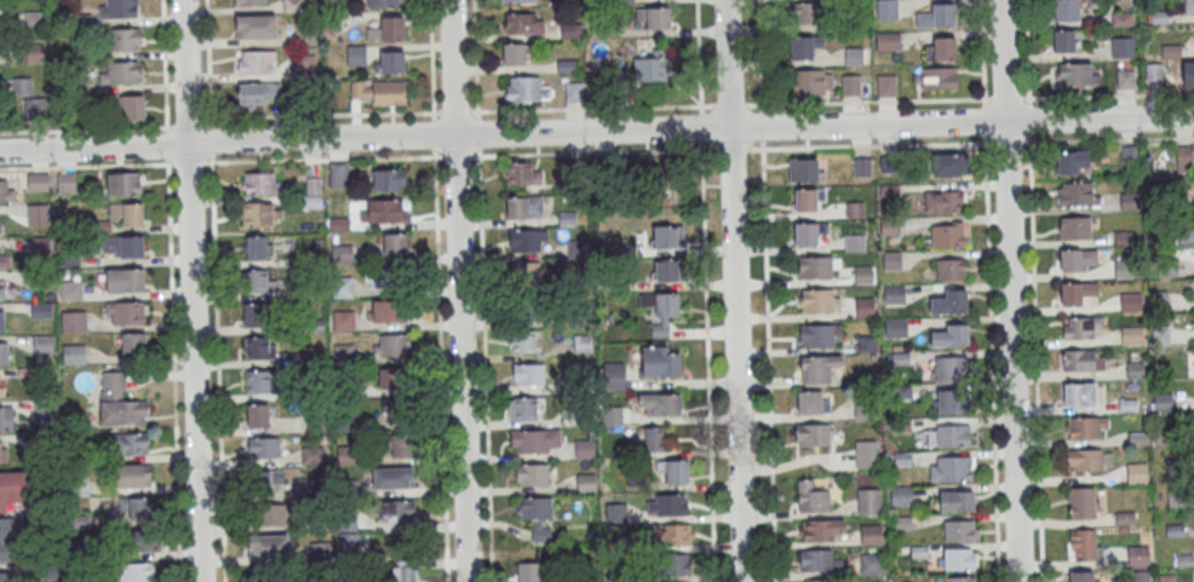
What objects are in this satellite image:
building: (248, 1)
building: (383, 4)
building: (294, 6)
building: (1189, 6)
building: (886, 8)
building: (120, 10)
building: (1064, 10)
building: (808, 12)
building: (937, 16)
building: (653, 17)
building: (1121, 18)
building: (34, 19)
building: (332, 21)
building: (522, 24)
building: (256, 25)
building: (389, 29)
building: (303, 31)
building: (122, 40)
building: (888, 40)
building: (1062, 40)
building: (806, 45)
building: (942, 47)
building: (1123, 47)
road: (982, 51)
road: (1026, 51)
building: (35, 53)
building: (357, 54)
building: (516, 56)
road: (760, 56)
building: (854, 56)
road: (699, 57)
road: (431, 59)
road: (475, 59)
building: (258, 60)
building: (389, 60)
building: (304, 63)
road: (208, 64)
road: (165, 65)
building: (650, 68)
building: (1189, 68)
building: (122, 73)
building: (1153, 73)
building: (1075, 74)
building: (935, 77)
building: (1125, 79)
building: (811, 80)
building: (850, 83)
building: (885, 85)
building: (22, 87)
building: (81, 87)
building: (360, 90)
building: (526, 91)
building: (389, 92)
building: (254, 93)
road: (1108, 97)
road: (1006, 99)
road: (869, 103)
building: (133, 106)
road: (731, 106)
building: (35, 109)
road: (592, 109)
road: (455, 113)
road: (322, 115)
road: (1028, 120)
road: (985, 121)
road: (188, 122)
road: (763, 127)
road: (702, 128)
road: (85, 129)
road: (478, 132)
road: (596, 132)
road: (434, 133)
road: (1107, 138)
road: (1006, 142)
road: (212, 144)
road: (871, 145)
road: (168, 146)
road: (733, 149)
road: (593, 151)
road: (458, 155)
building: (1184, 159)
road: (220, 161)
building: (1074, 162)
building: (947, 163)
building: (890, 165)
building: (607, 166)
building: (863, 166)
building: (578, 168)
building: (805, 169)
building: (338, 174)
building: (521, 174)
building: (389, 179)
building: (38, 183)
building: (67, 183)
building: (259, 183)
building: (124, 185)
building: (6, 190)
building: (1077, 194)
building: (809, 198)
building: (942, 201)
building: (312, 202)
building: (522, 207)
building: (386, 209)
building: (855, 209)
building: (127, 214)
building: (259, 214)
building: (38, 215)
building: (340, 224)
building: (891, 226)
building: (99, 227)
building: (1075, 227)
building: (0, 232)
building: (806, 234)
building: (947, 234)
building: (667, 236)
building: (526, 241)
building: (394, 243)
building: (856, 243)
building: (42, 246)
building: (122, 247)
building: (257, 247)
building: (576, 249)
building: (626, 249)
building: (343, 254)
building: (69, 258)
building: (315, 259)
building: (4, 260)
building: (892, 261)
building: (1077, 261)
building: (816, 267)
building: (667, 269)
building: (949, 269)
building: (1123, 269)
building: (526, 272)
building: (865, 275)
building: (386, 278)
building: (41, 280)
building: (126, 281)
building: (259, 282)
building: (580, 283)
building: (603, 284)
building: (343, 287)
building: (5, 288)
building: (71, 290)
road: (194, 290)
road: (459, 290)
road: (735, 290)
road: (1009, 290)
building: (311, 292)
building: (1078, 294)
building: (895, 295)
building: (819, 300)
building: (1130, 301)
building: (661, 302)
building: (951, 304)
building: (866, 307)
building: (42, 311)
building: (388, 311)
building: (126, 313)
building: (257, 315)
building: (1, 319)
building: (344, 321)
building: (75, 322)
building: (315, 325)
building: (1079, 327)
building: (660, 329)
building: (897, 329)
building: (817, 335)
building: (952, 336)
building: (523, 341)
building: (44, 344)
building: (584, 344)
building: (868, 344)
building: (133, 345)
building: (390, 345)
building: (258, 347)
building: (4, 353)
building: (75, 355)
building: (344, 355)
building: (302, 358)
building: (900, 358)
road: (1034, 358)
road: (991, 359)
building: (659, 361)
road: (708, 362)
road: (769, 362)
building: (1079, 362)
road: (484, 363)
road: (440, 364)
building: (817, 369)
building: (953, 369)
road: (217, 370)
road: (174, 371)
building: (527, 373)
building: (615, 376)
building: (392, 378)
building: (258, 381)
building: (585, 381)
building: (0, 385)
building: (344, 387)
building: (902, 391)
building: (300, 393)
building: (1081, 394)
building: (954, 402)
building: (660, 404)
building: (811, 404)
building: (394, 408)
building: (524, 408)
building: (866, 408)
building: (45, 410)
building: (120, 413)
building: (257, 416)
building: (585, 416)
building: (613, 416)
building: (6, 417)
building: (317, 420)
building: (345, 422)
building: (901, 426)
building: (1085, 430)
building: (814, 436)
building: (953, 436)
building: (651, 439)
building: (533, 440)
building: (131, 445)
building: (402, 445)
building: (263, 449)
building: (585, 449)
building: (4, 451)
building: (626, 451)
building: (349, 455)
building: (866, 455)
building: (312, 456)
building: (903, 459)
building: (1086, 460)
building: (951, 468)
building: (673, 469)
building: (1136, 472)
building: (532, 474)
building: (133, 477)
building: (392, 478)
building: (269, 479)
building: (636, 479)
building: (586, 483)
building: (79, 485)
building: (11, 488)
building: (304, 489)
building: (348, 489)
building: (902, 496)
building: (810, 497)
building: (869, 501)
building: (1083, 502)
building: (666, 503)
building: (959, 503)
building: (134, 507)
building: (395, 512)
building: (618, 513)
building: (536, 514)
building: (270, 515)
building: (321, 519)
building: (81, 522)
building: (348, 522)
building: (902, 524)
building: (822, 530)
building: (960, 531)
building: (671, 534)
building: (872, 535)
building: (5, 538)
building: (137, 541)
building: (349, 542)
building: (1084, 543)
building: (268, 547)
building: (320, 551)
building: (84, 552)
building: (919, 552)
building: (1137, 554)
building: (819, 560)
building: (960, 560)
building: (676, 564)
building: (872, 564)
building: (404, 570)
building: (53, 571)
building: (134, 572)
building: (530, 572)
building: (618, 576)
building: (1084, 576)
building: (1140, 576)
building: (4, 577)
building: (960, 580)
building: (270, 581)
building: (816, 581)

